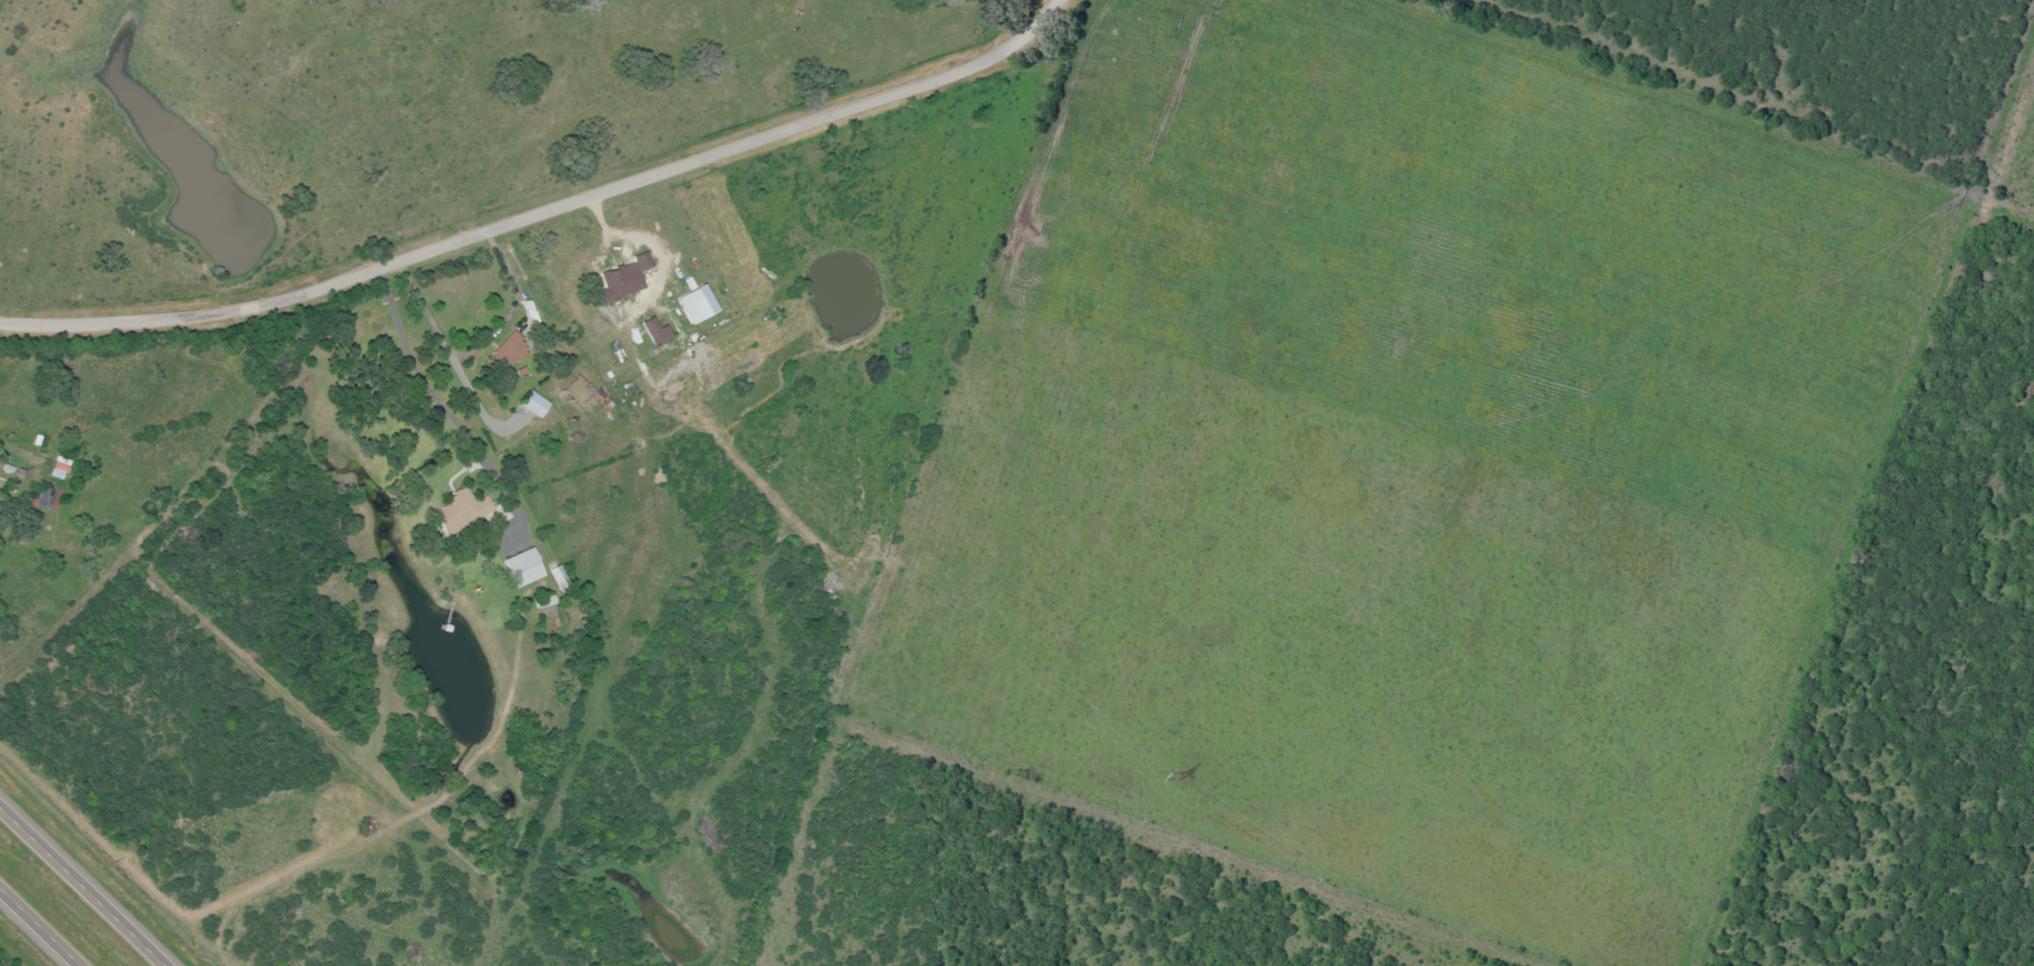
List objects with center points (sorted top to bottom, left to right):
power tower: (355, 181)
road: (545, 210)
building: (625, 278)
building: (698, 304)
building: (658, 332)
building: (509, 349)
road: (382, 403)
building: (535, 404)
building: (60, 467)
power tower: (747, 467)
building: (49, 498)
building: (462, 510)
power tower: (882, 560)
building: (525, 567)
building: (546, 601)
road: (1, 648)
power tower: (1172, 778)
road: (81, 888)
road: (38, 928)

